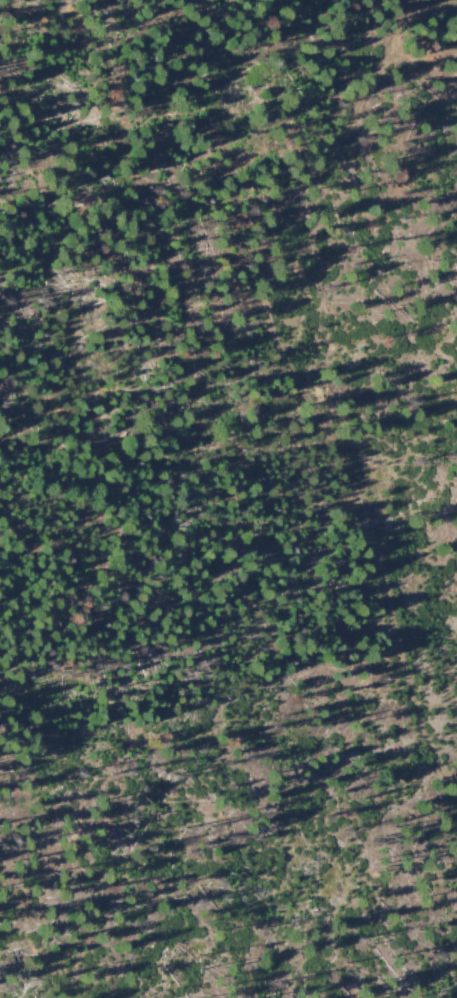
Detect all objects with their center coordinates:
road: (252, 430)

